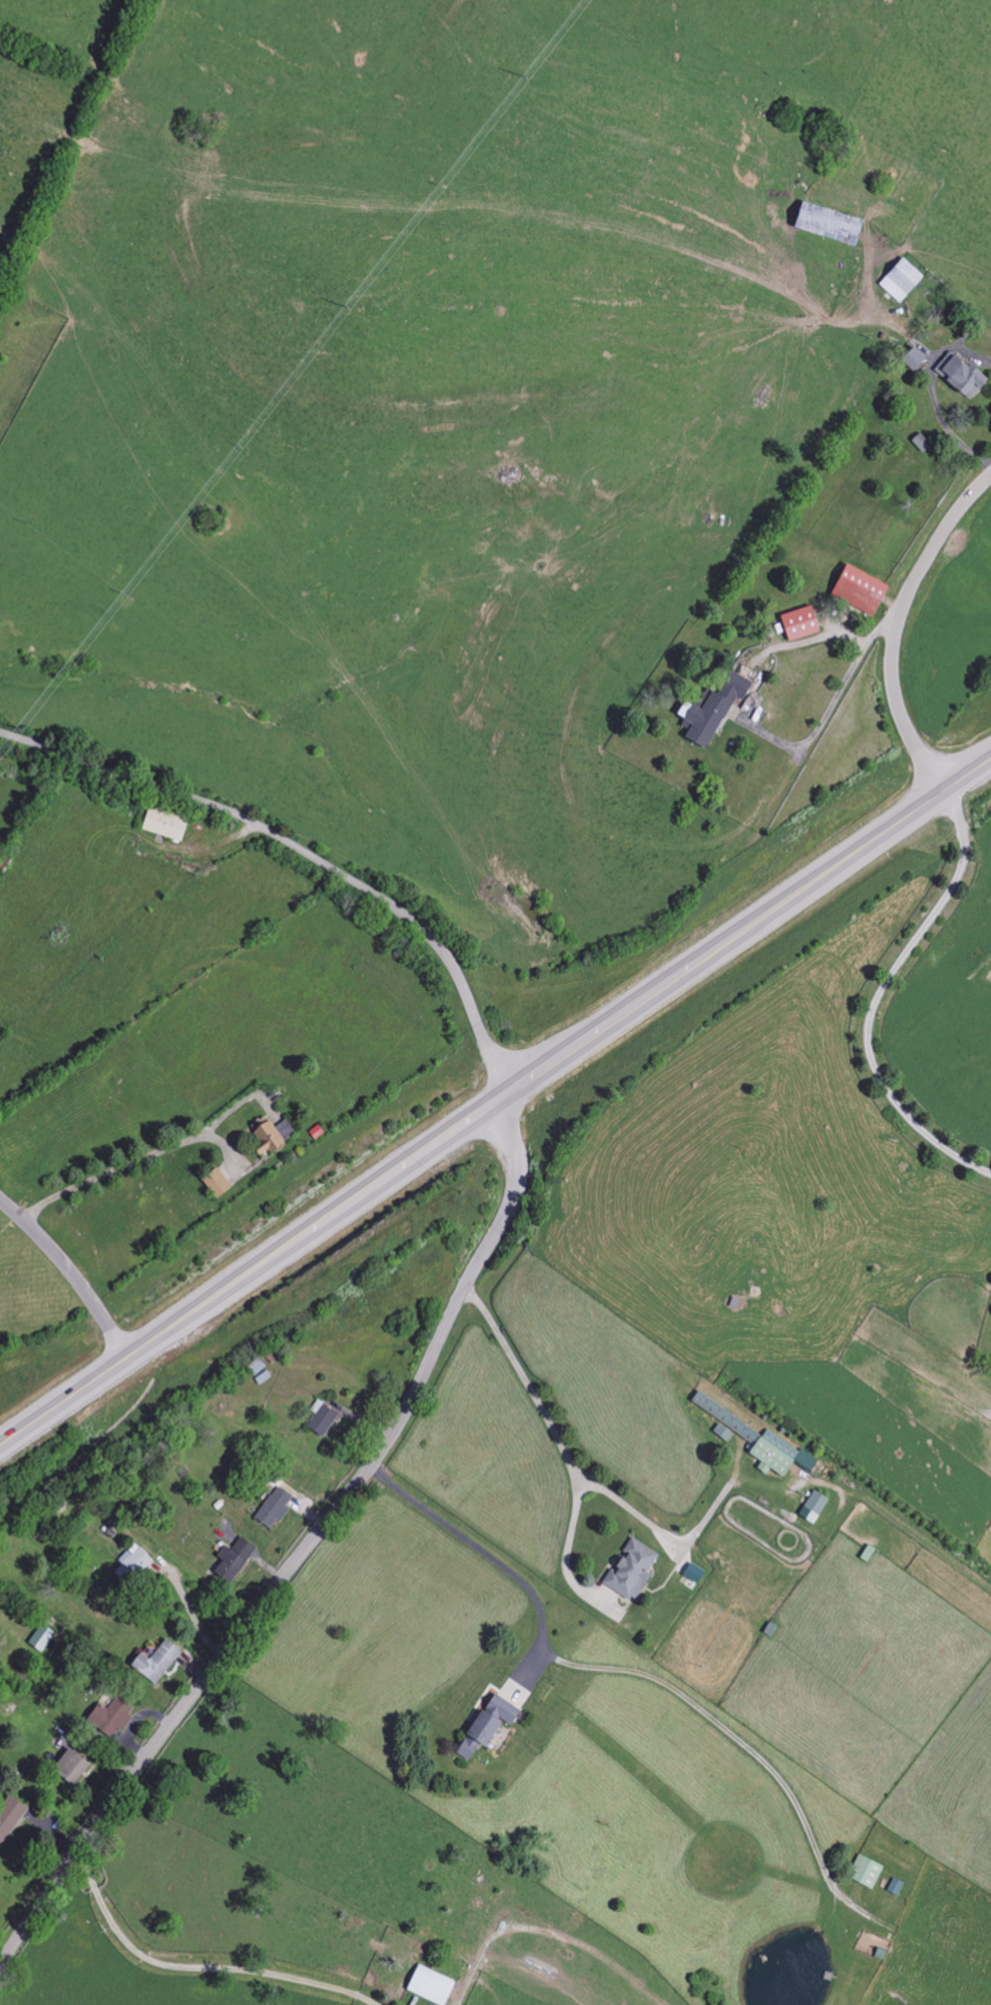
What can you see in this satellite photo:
building: (823, 223)
building: (898, 279)
building: (909, 357)
building: (959, 377)
road: (931, 391)
building: (856, 590)
building: (797, 624)
road: (898, 627)
building: (710, 708)
road: (828, 712)
building: (163, 825)
road: (303, 853)
road: (875, 997)
road: (495, 1102)
building: (271, 1135)
road: (142, 1155)
building: (213, 1183)
road: (71, 1273)
road: (521, 1384)
building: (718, 1413)
building: (321, 1421)
building: (721, 1433)
building: (777, 1455)
building: (811, 1508)
building: (273, 1509)
road: (654, 1531)
road: (566, 1544)
road: (481, 1548)
road: (300, 1552)
building: (231, 1561)
building: (134, 1562)
building: (629, 1571)
road: (188, 1606)
building: (40, 1639)
building: (154, 1663)
building: (109, 1718)
building: (484, 1726)
road: (740, 1742)
building: (68, 1768)
building: (9, 1817)
building: (864, 1872)
building: (894, 1887)
road: (198, 1964)
building: (428, 1985)
road: (373, 2004)
road: (374, 2004)

